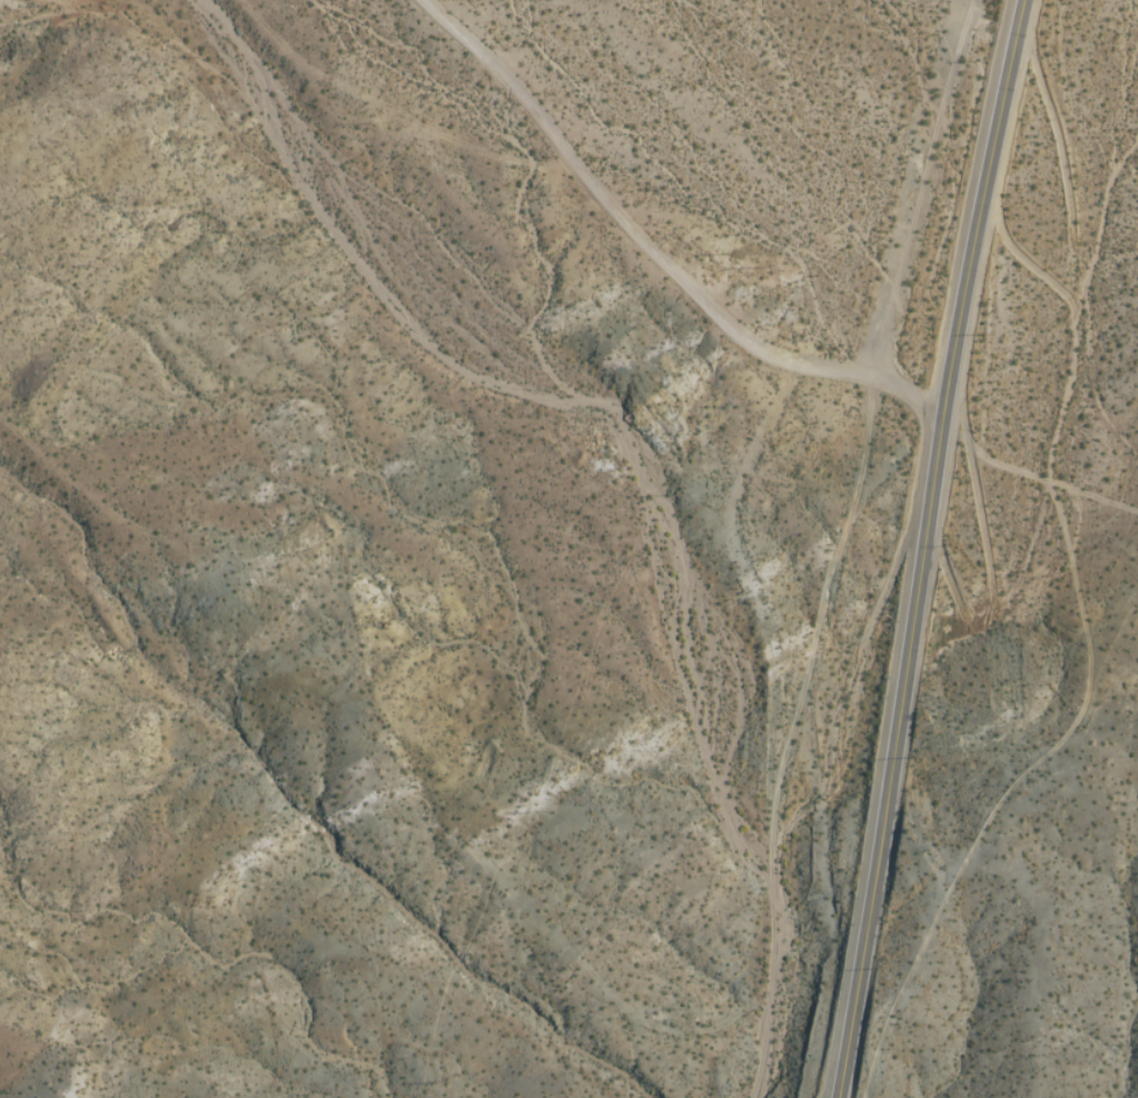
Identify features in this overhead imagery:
road: (660, 254)
road: (924, 547)

